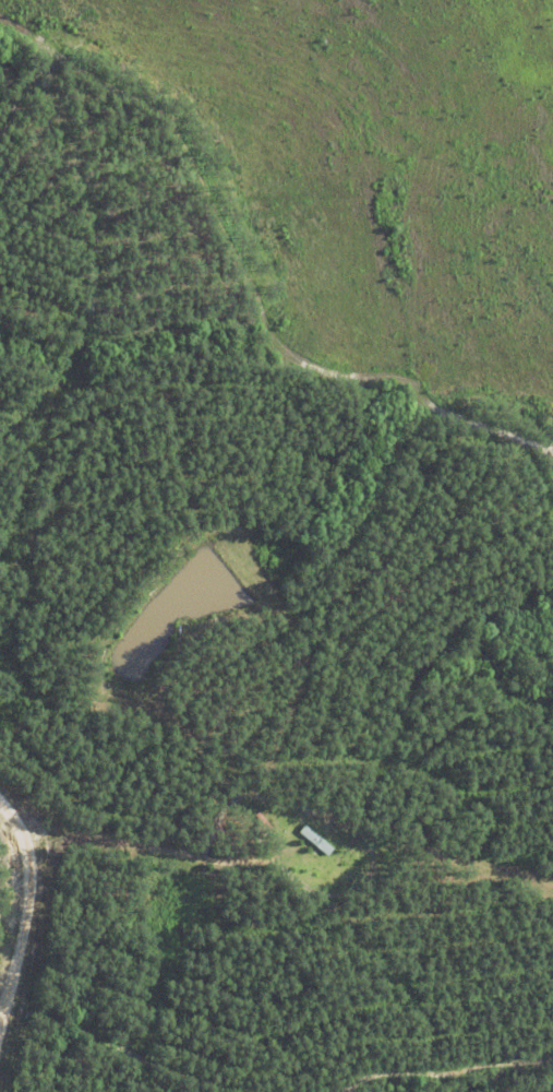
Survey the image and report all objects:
road: (26, 903)

